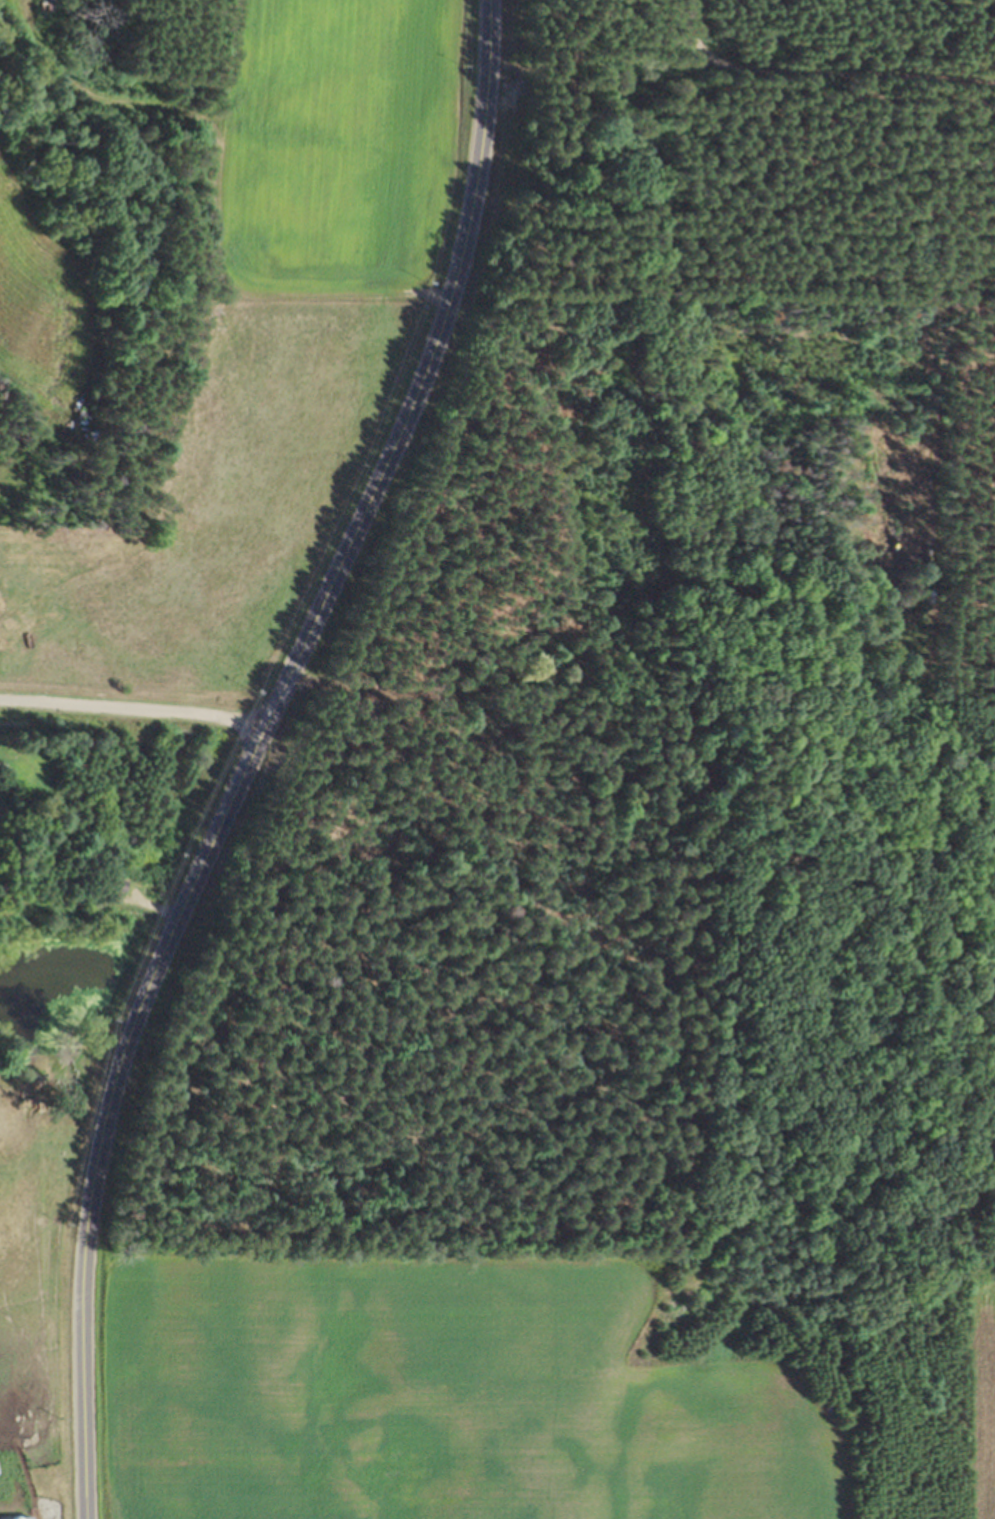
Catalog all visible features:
road: (130, 715)
road: (648, 735)
road: (251, 752)
road: (978, 992)
road: (941, 1083)
building: (16, 1518)

